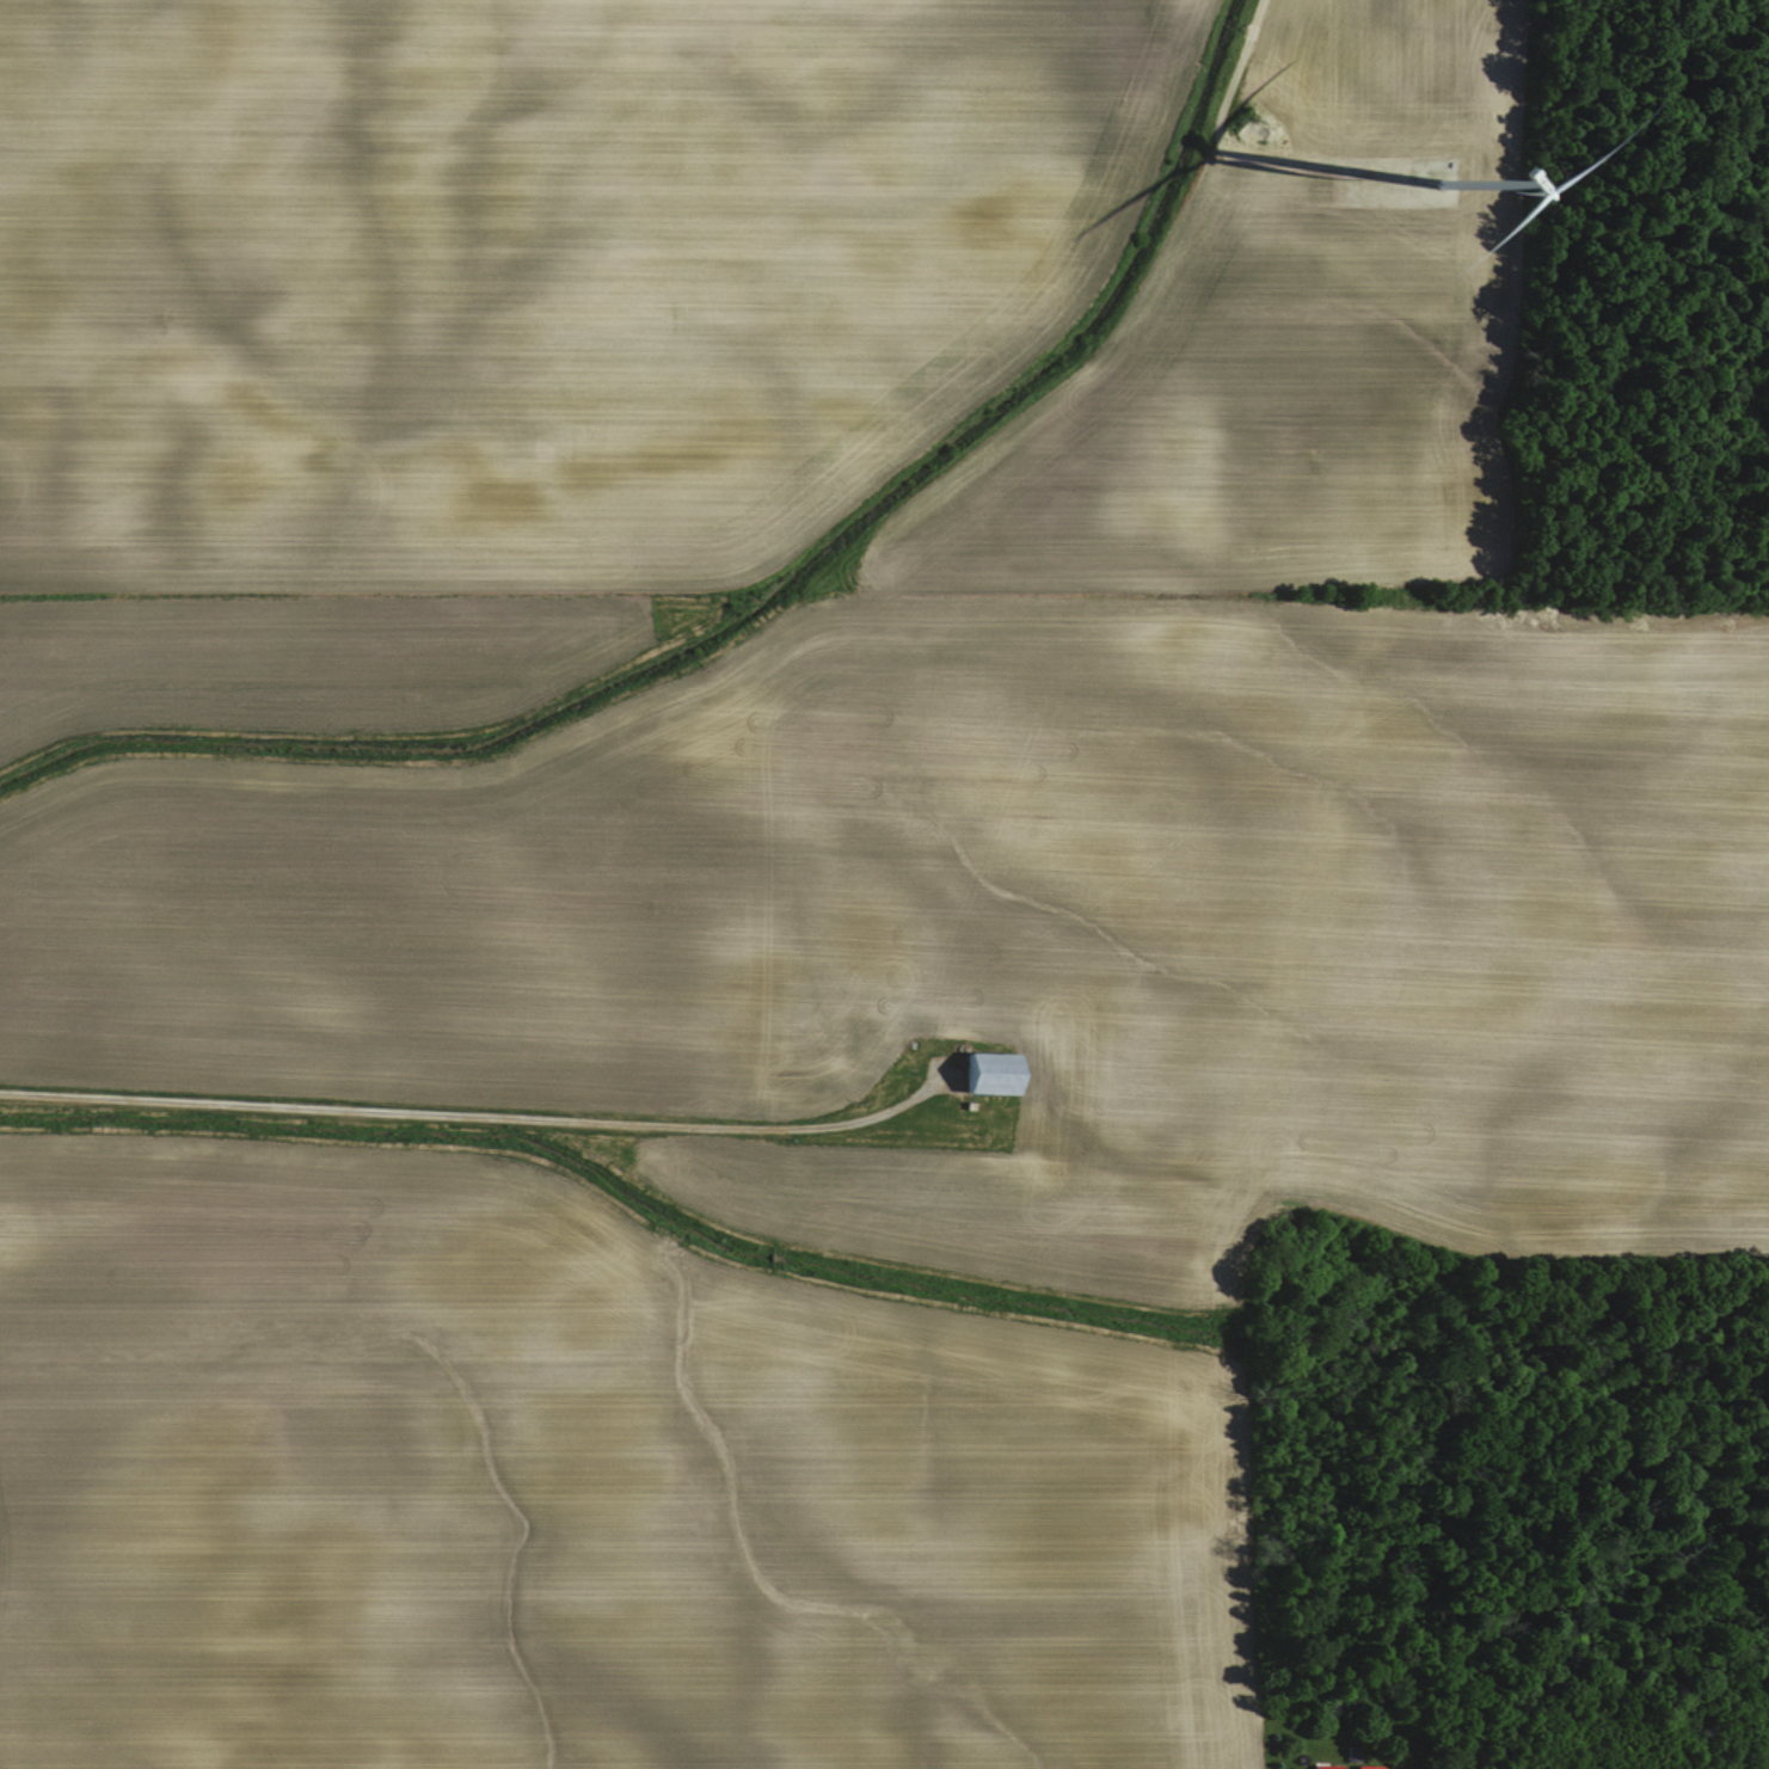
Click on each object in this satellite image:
wind turbine: (1445, 179)
building: (979, 1071)
road: (478, 1120)
building: (1322, 1765)
building: (1359, 1765)

